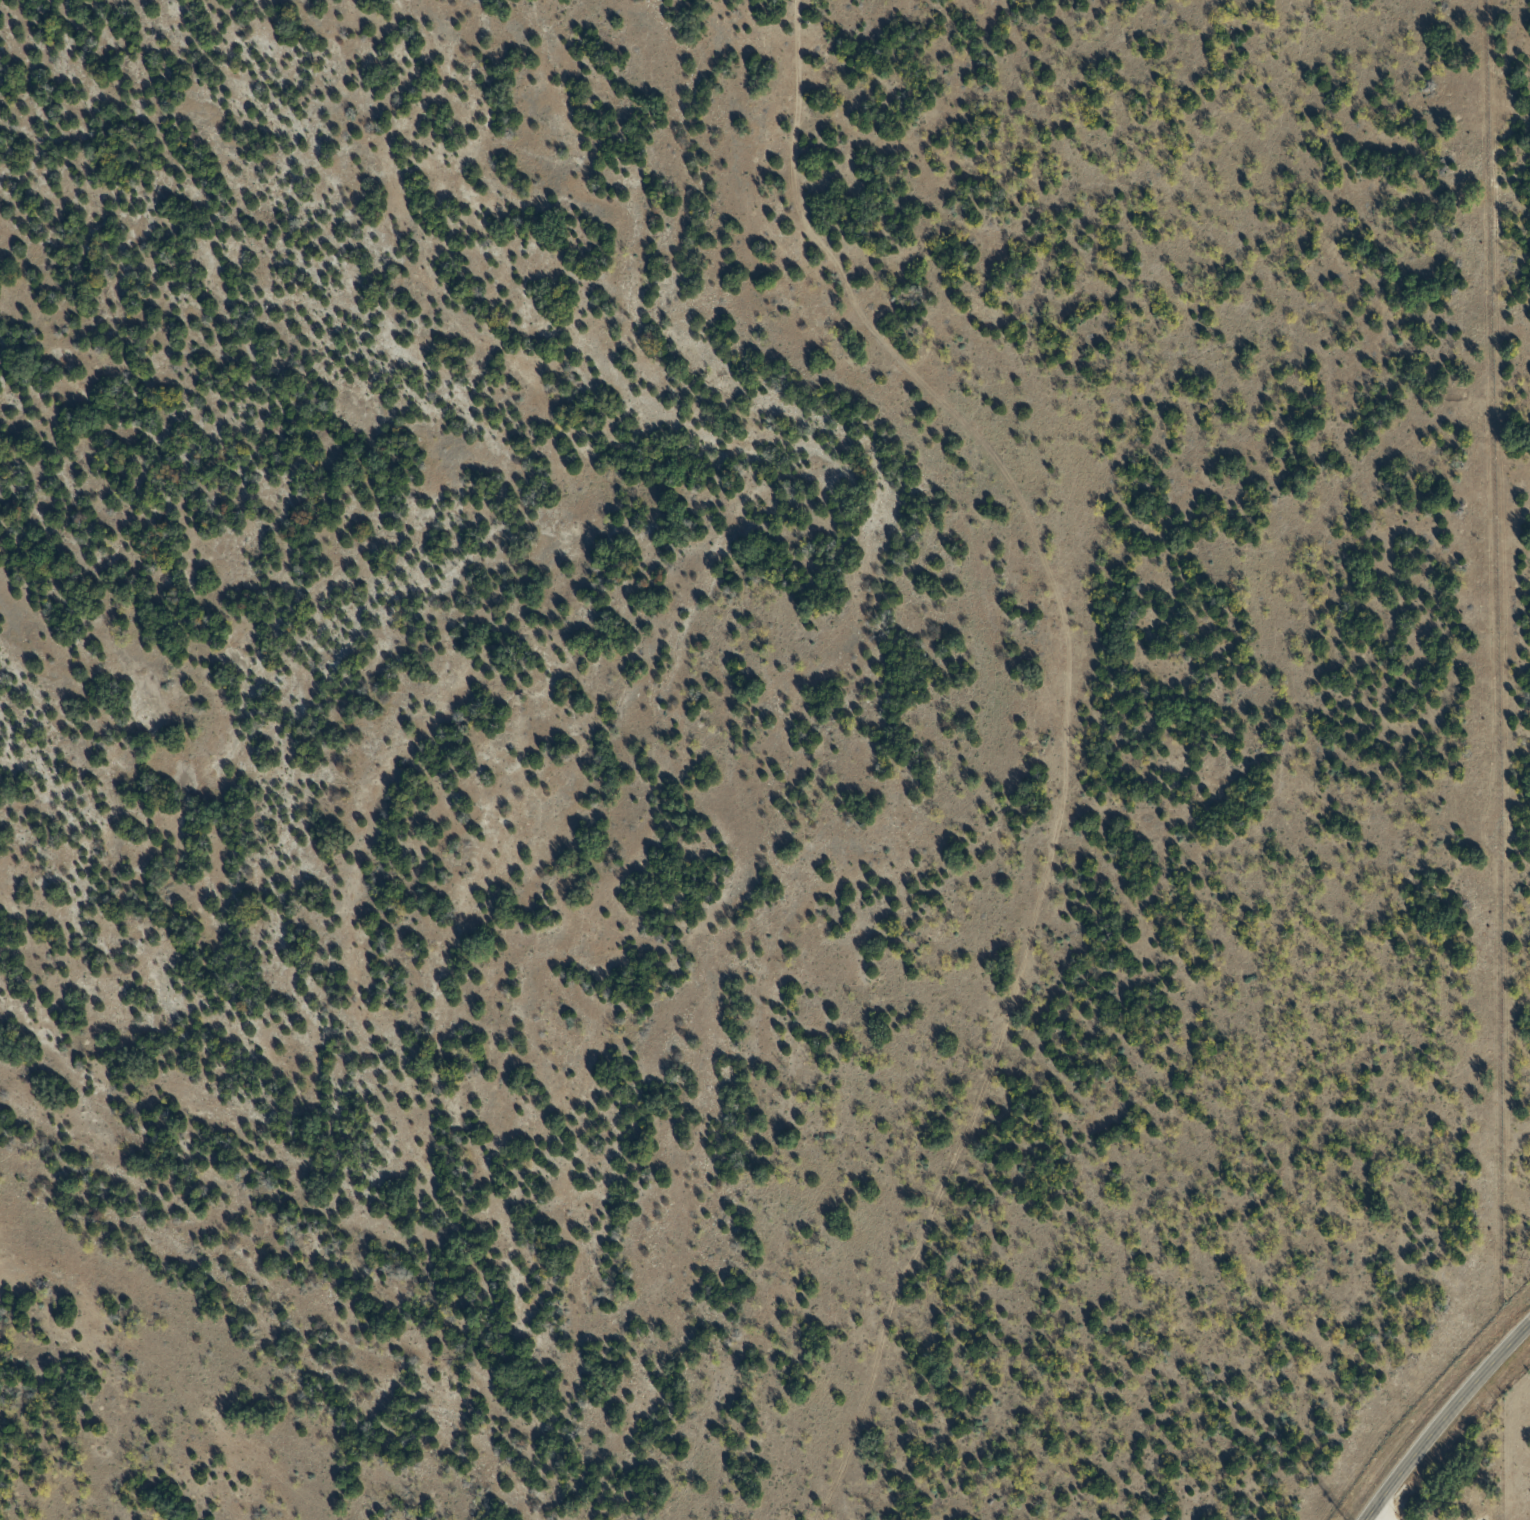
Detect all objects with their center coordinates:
road: (1445, 1419)

